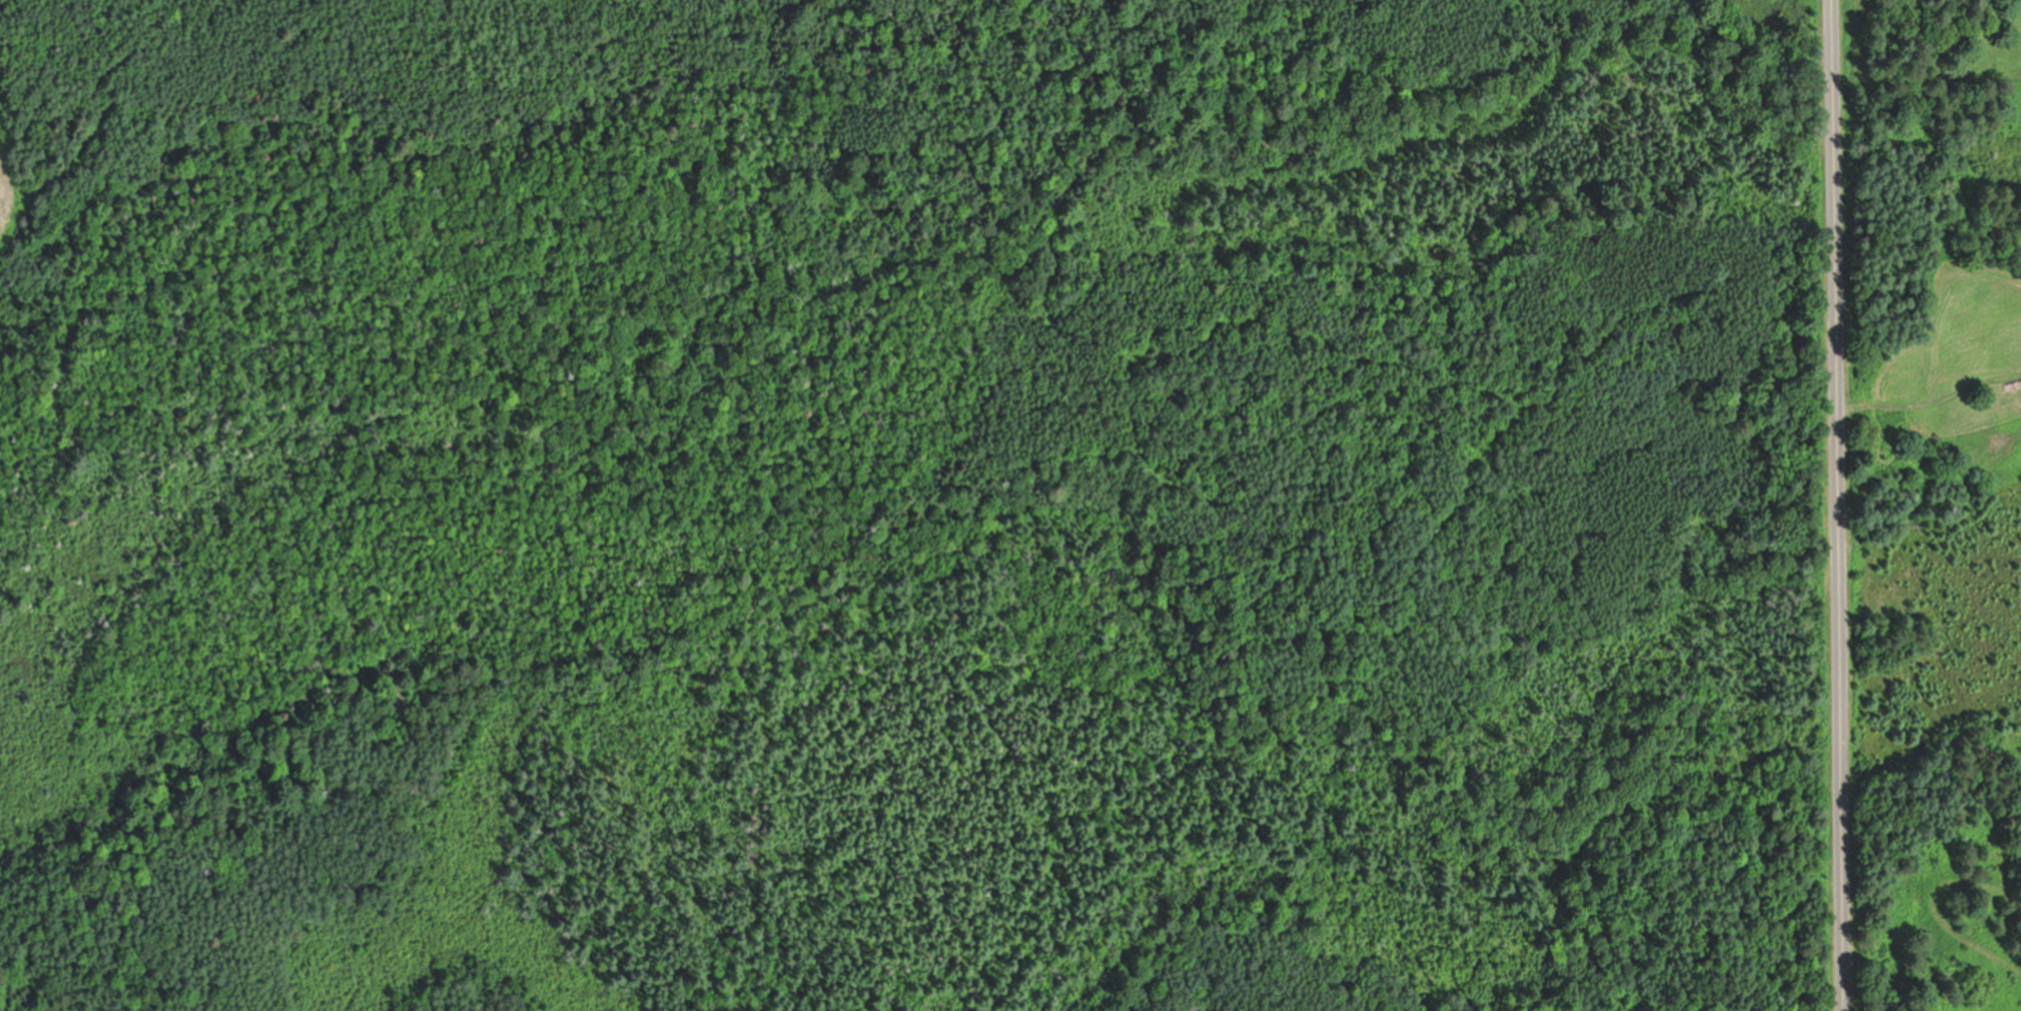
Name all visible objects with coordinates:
road: (1849, 505)

